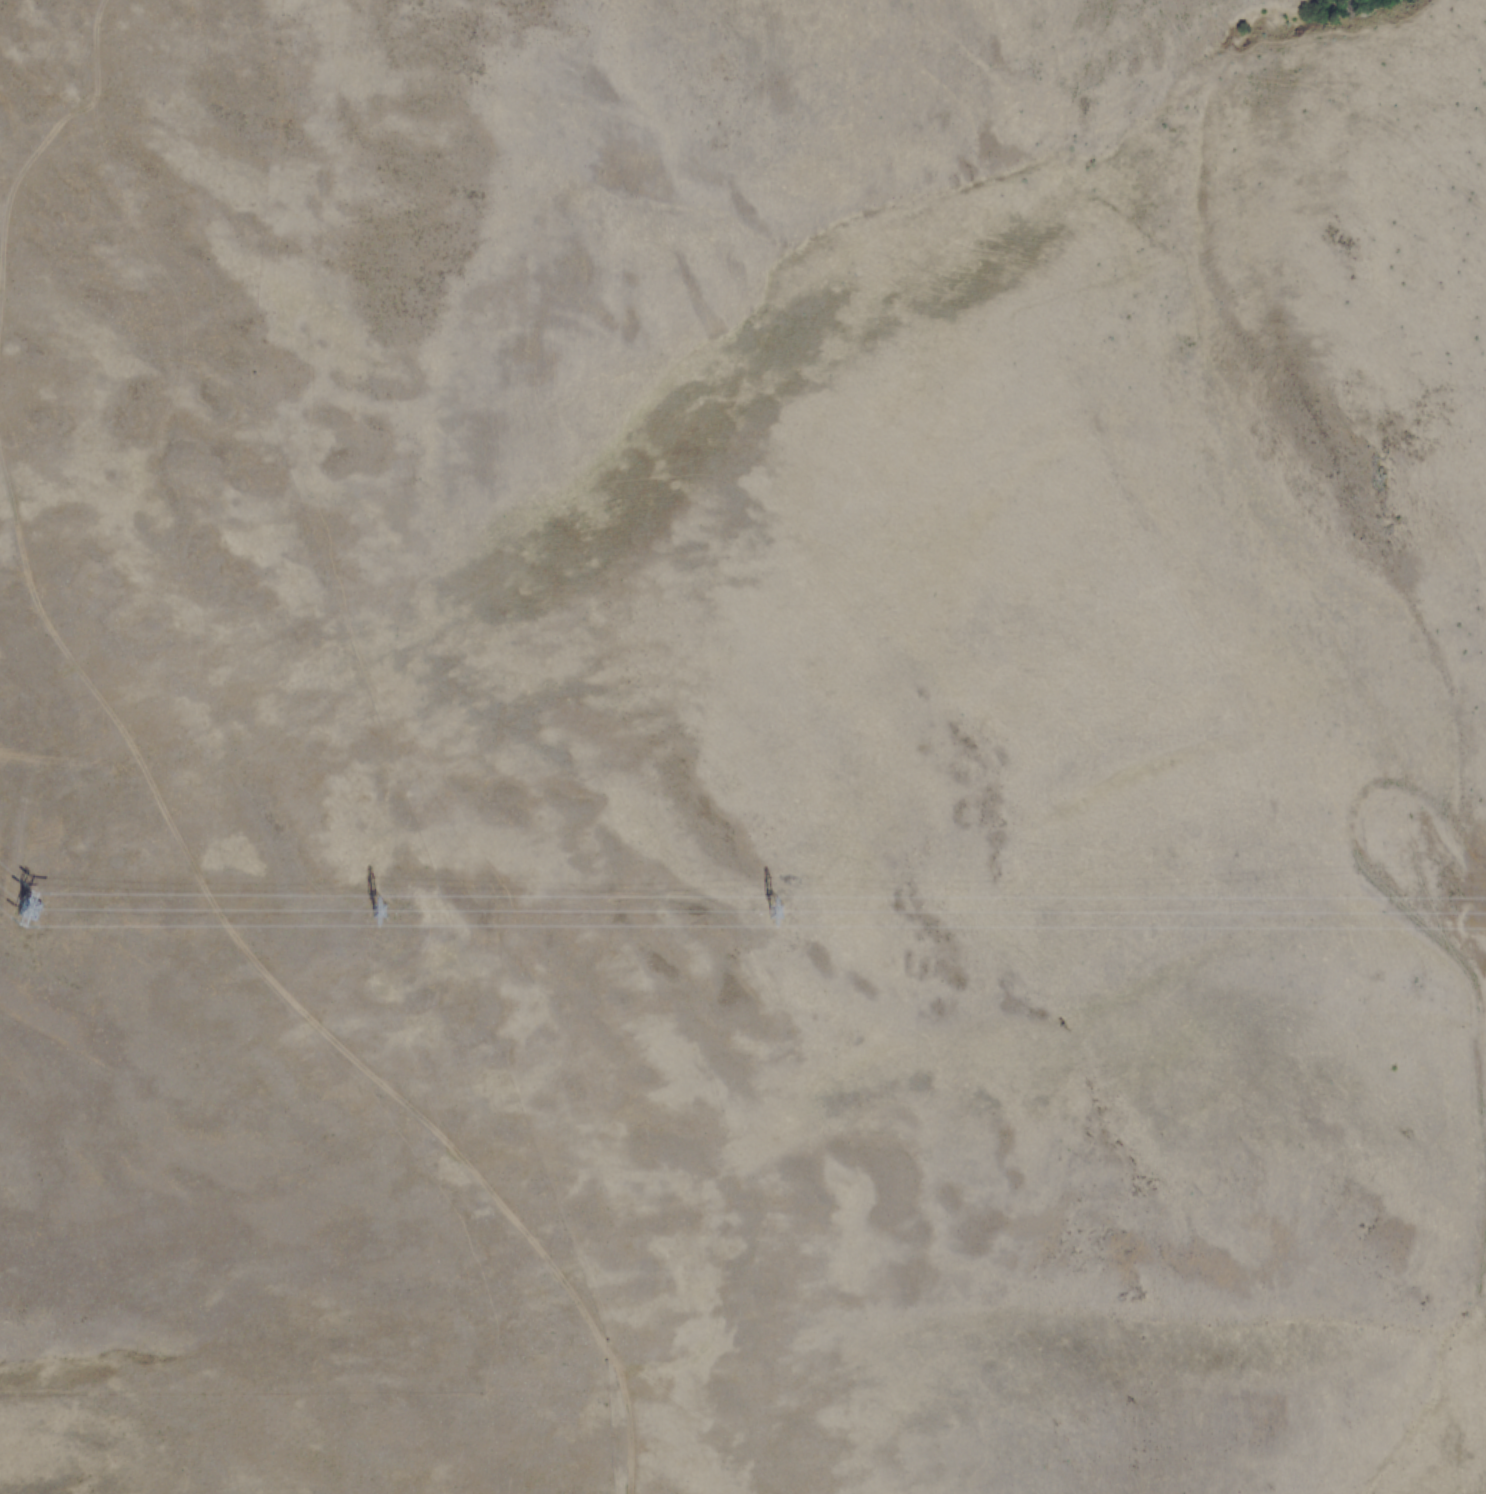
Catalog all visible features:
power tower: (392, 895)
power tower: (788, 896)
power tower: (34, 906)

